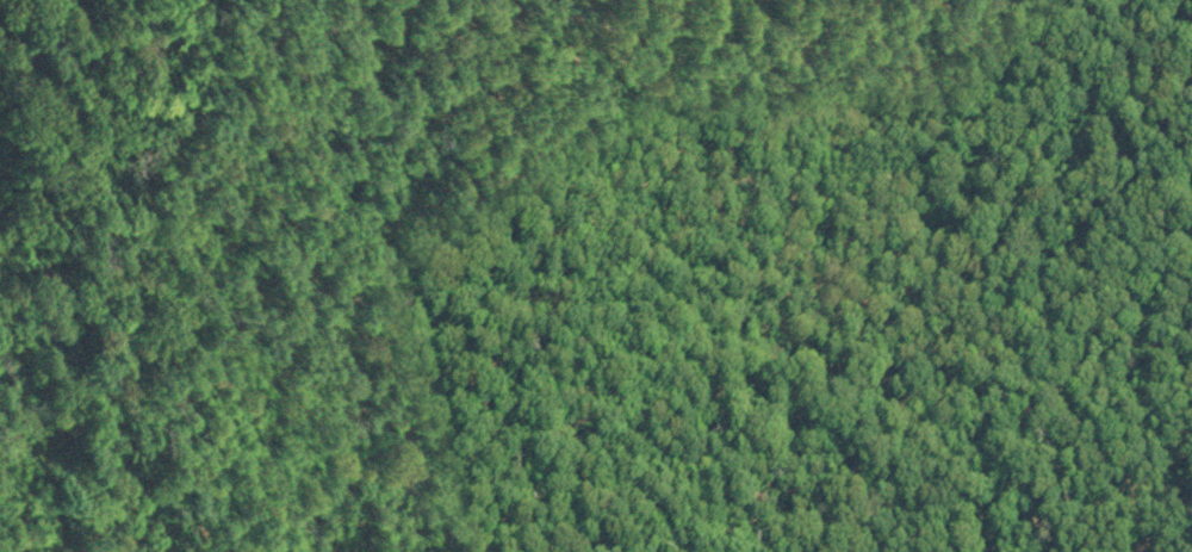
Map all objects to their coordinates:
road: (2, 7)

